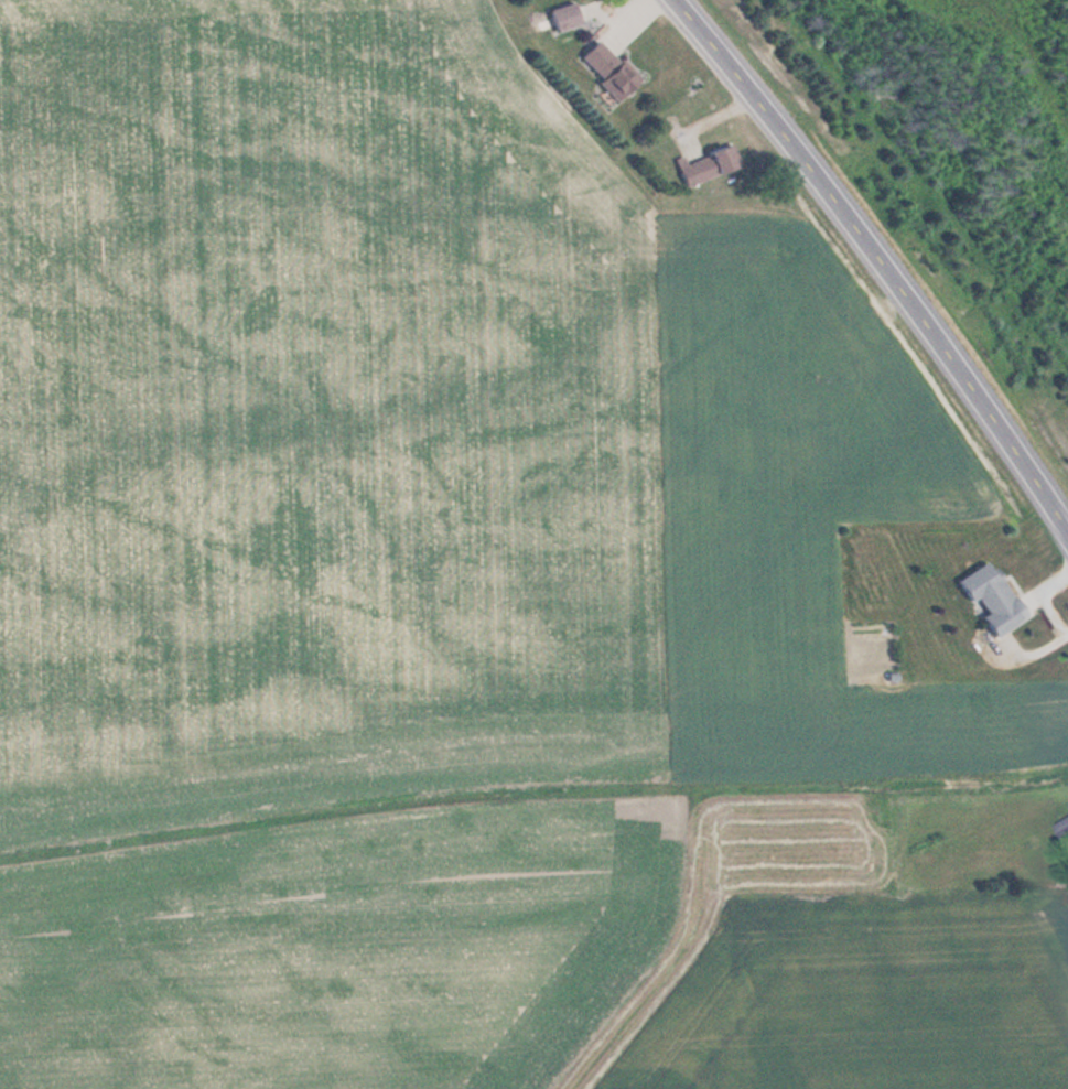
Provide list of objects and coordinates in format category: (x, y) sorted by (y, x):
building: (568, 15)
building: (612, 68)
building: (711, 165)
road: (880, 257)
building: (995, 599)
building: (1066, 827)

